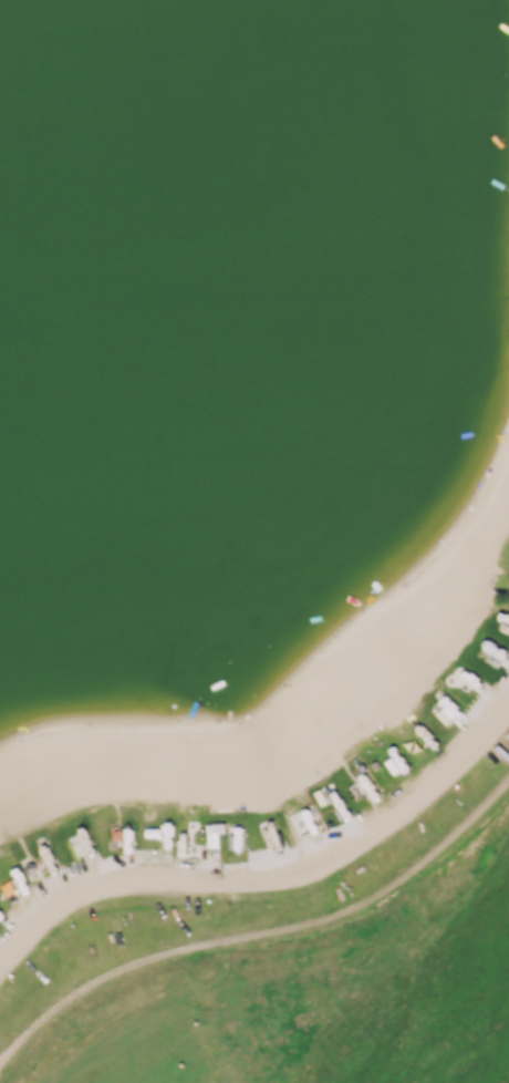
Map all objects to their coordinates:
road: (278, 873)

